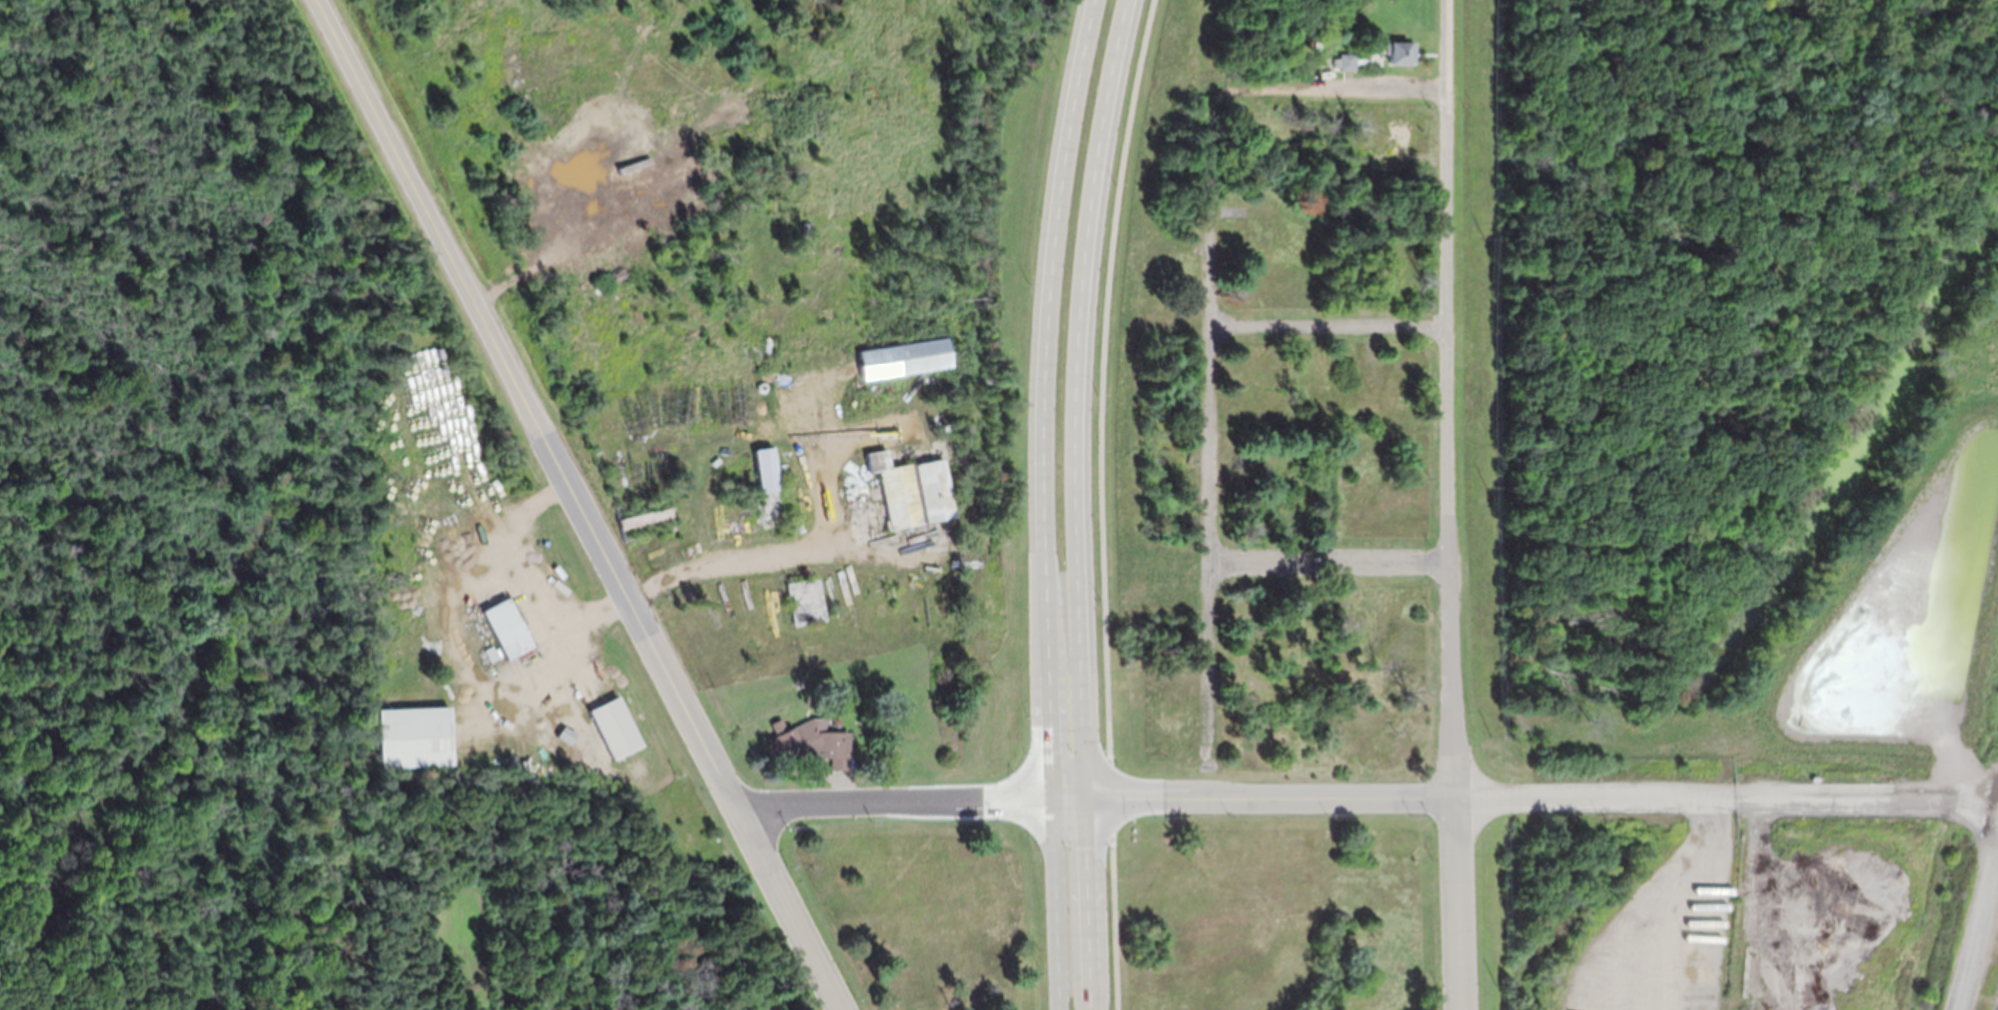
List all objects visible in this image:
building: (1401, 52)
building: (1347, 61)
road: (1330, 89)
building: (1399, 134)
building: (1379, 160)
building: (587, 161)
building: (678, 164)
building: (1262, 222)
building: (1313, 274)
building: (1266, 278)
building: (1297, 279)
road: (1327, 330)
building: (921, 352)
building: (1406, 363)
building: (1371, 375)
road: (528, 401)
building: (1265, 404)
road: (1208, 427)
building: (1294, 483)
building: (767, 485)
building: (1316, 489)
building: (912, 490)
road: (1042, 503)
road: (1073, 503)
road: (1102, 503)
road: (1451, 505)
building: (1277, 510)
road: (1331, 562)
building: (805, 601)
building: (1320, 625)
building: (505, 627)
building: (1264, 651)
building: (1299, 683)
building: (613, 727)
building: (412, 736)
building: (812, 743)
railway: (1954, 783)
road: (1268, 794)
road: (910, 797)
road: (1726, 797)
traffic signals: (1052, 798)
traffic signals: (1083, 798)
building: (1373, 828)
building: (1399, 842)
building: (1331, 862)
building: (1345, 871)
building: (1389, 886)
road: (789, 906)
road: (1975, 917)
building: (1392, 956)

